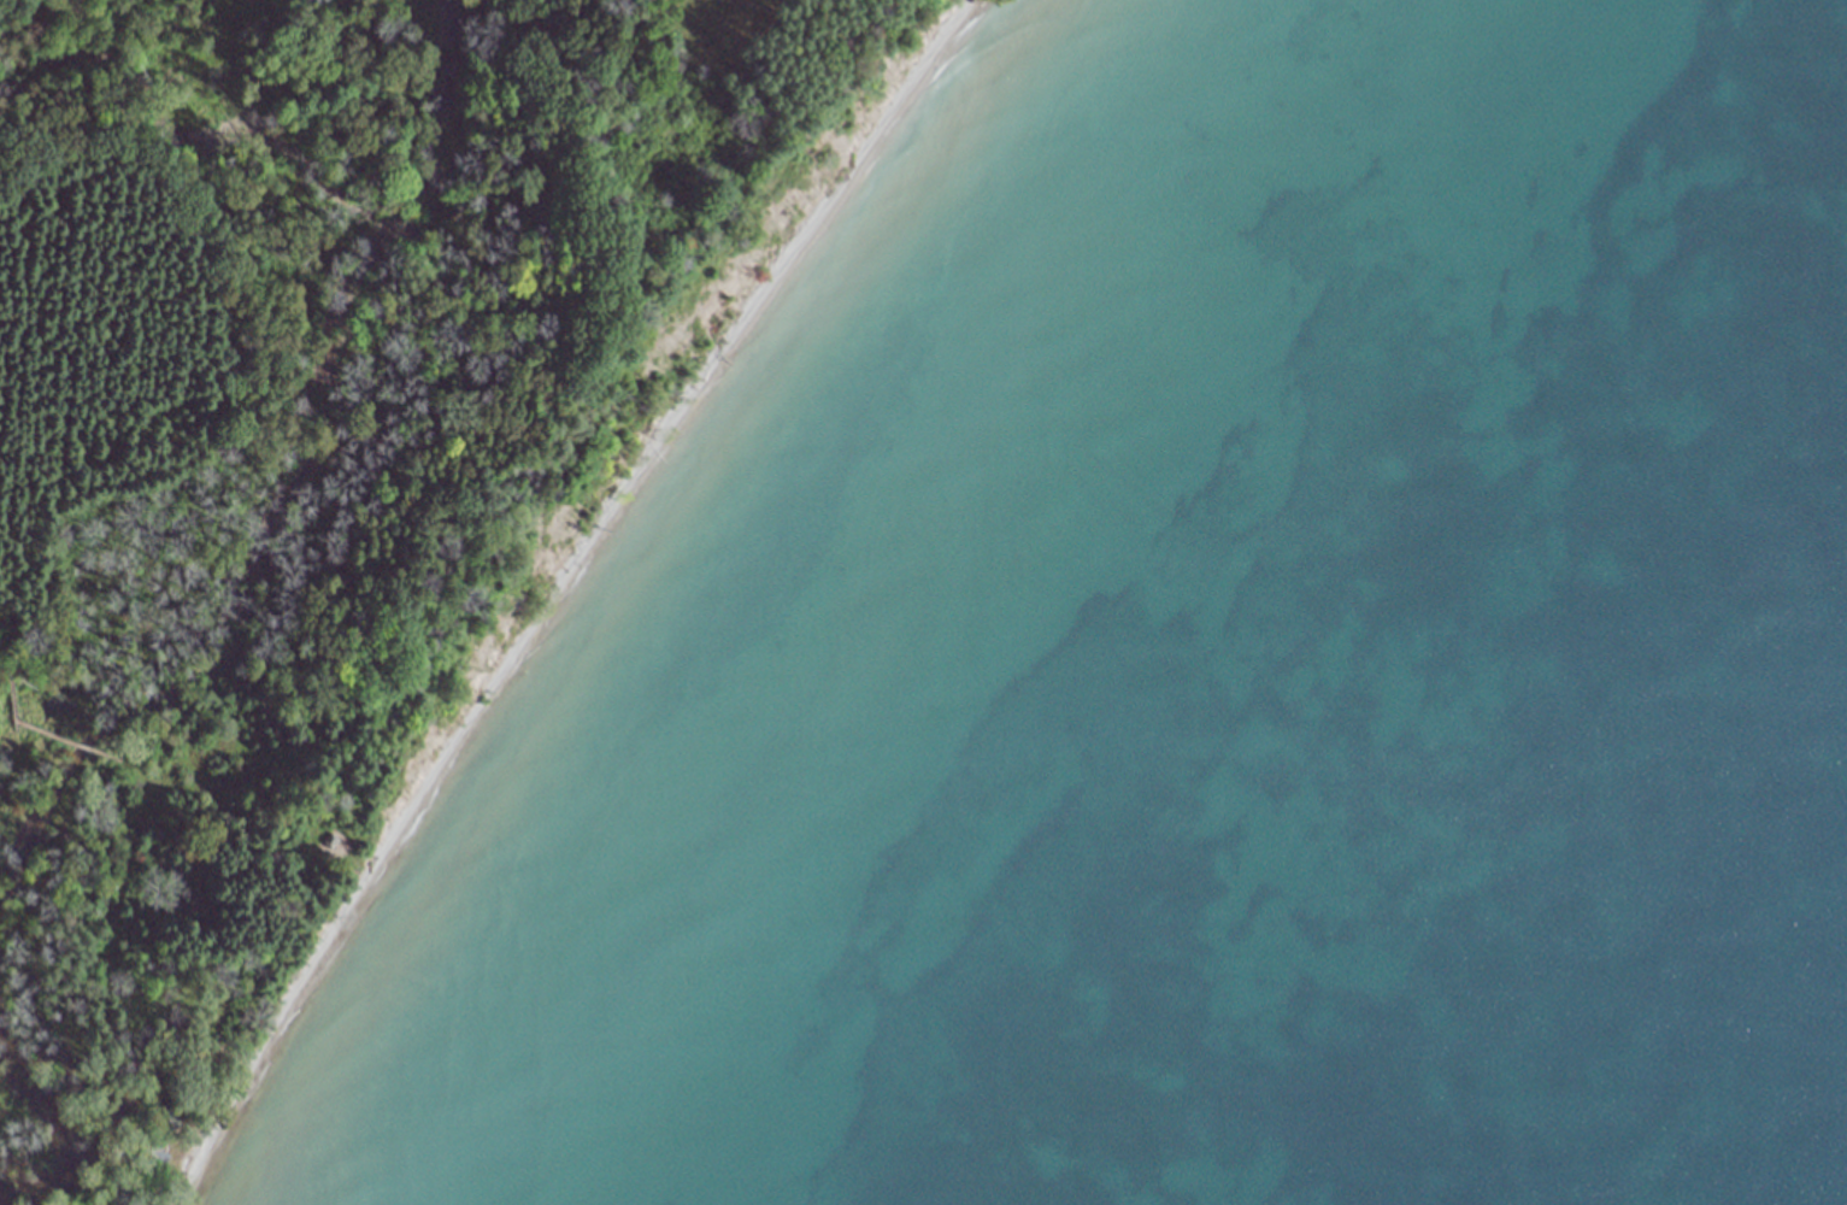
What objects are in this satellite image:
building: (1, 621)
road: (39, 731)

